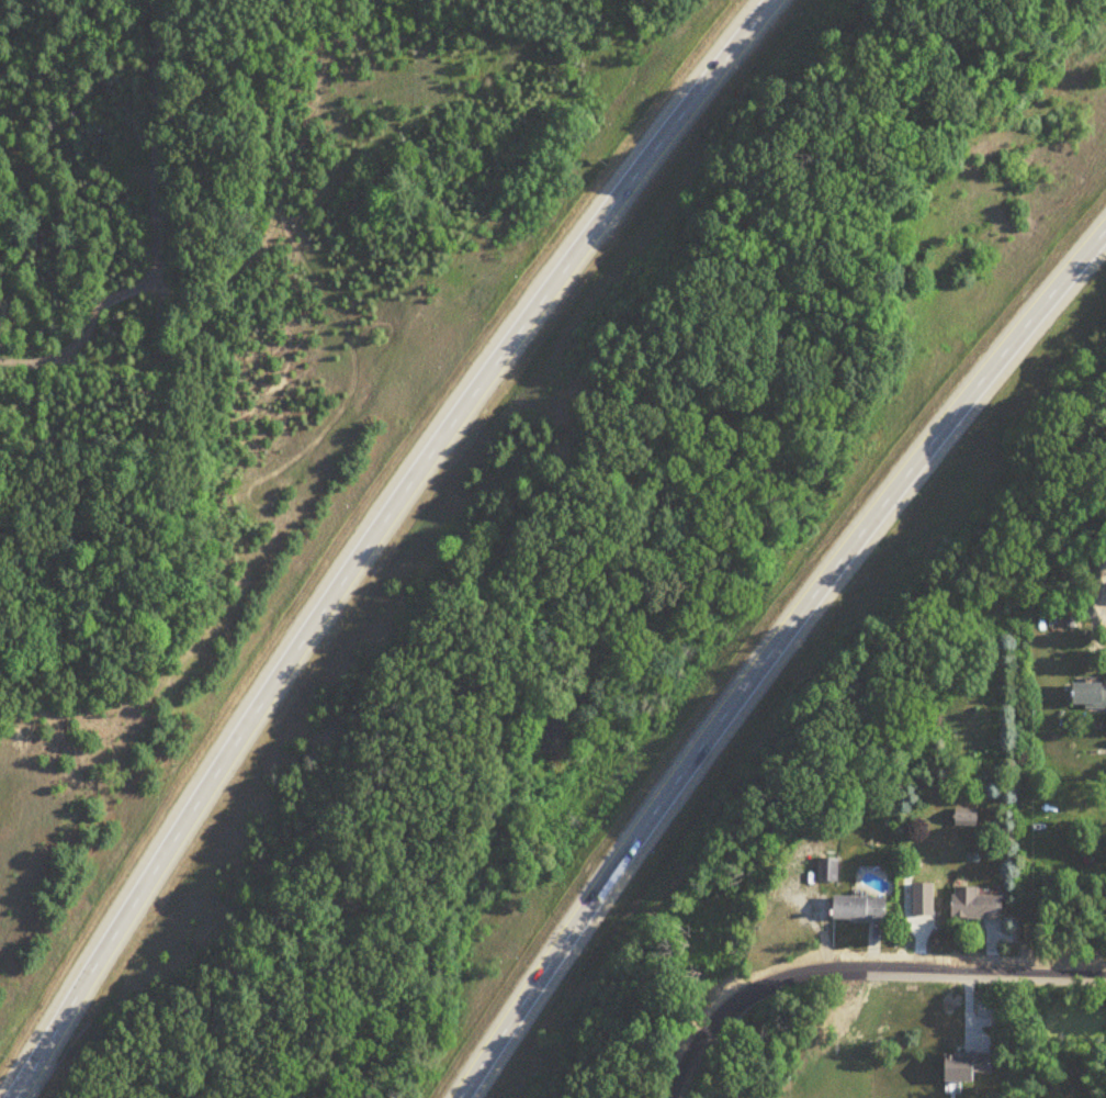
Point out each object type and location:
road: (157, 233)
road: (383, 536)
road: (767, 650)
building: (1090, 696)
building: (828, 870)
building: (979, 904)
building: (860, 908)
road: (862, 974)

